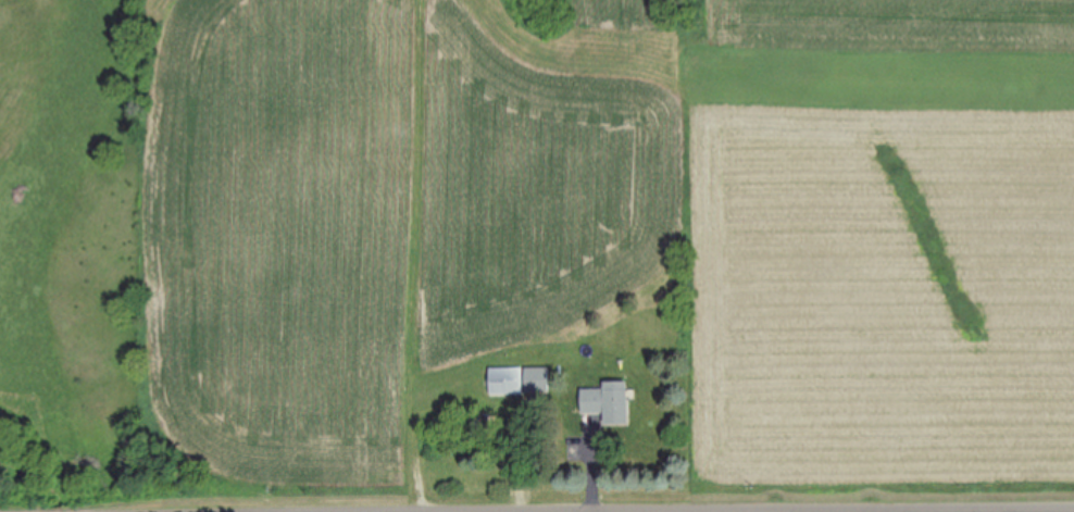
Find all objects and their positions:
crop: (532, 237)
building: (538, 380)
building: (508, 382)
building: (609, 402)

